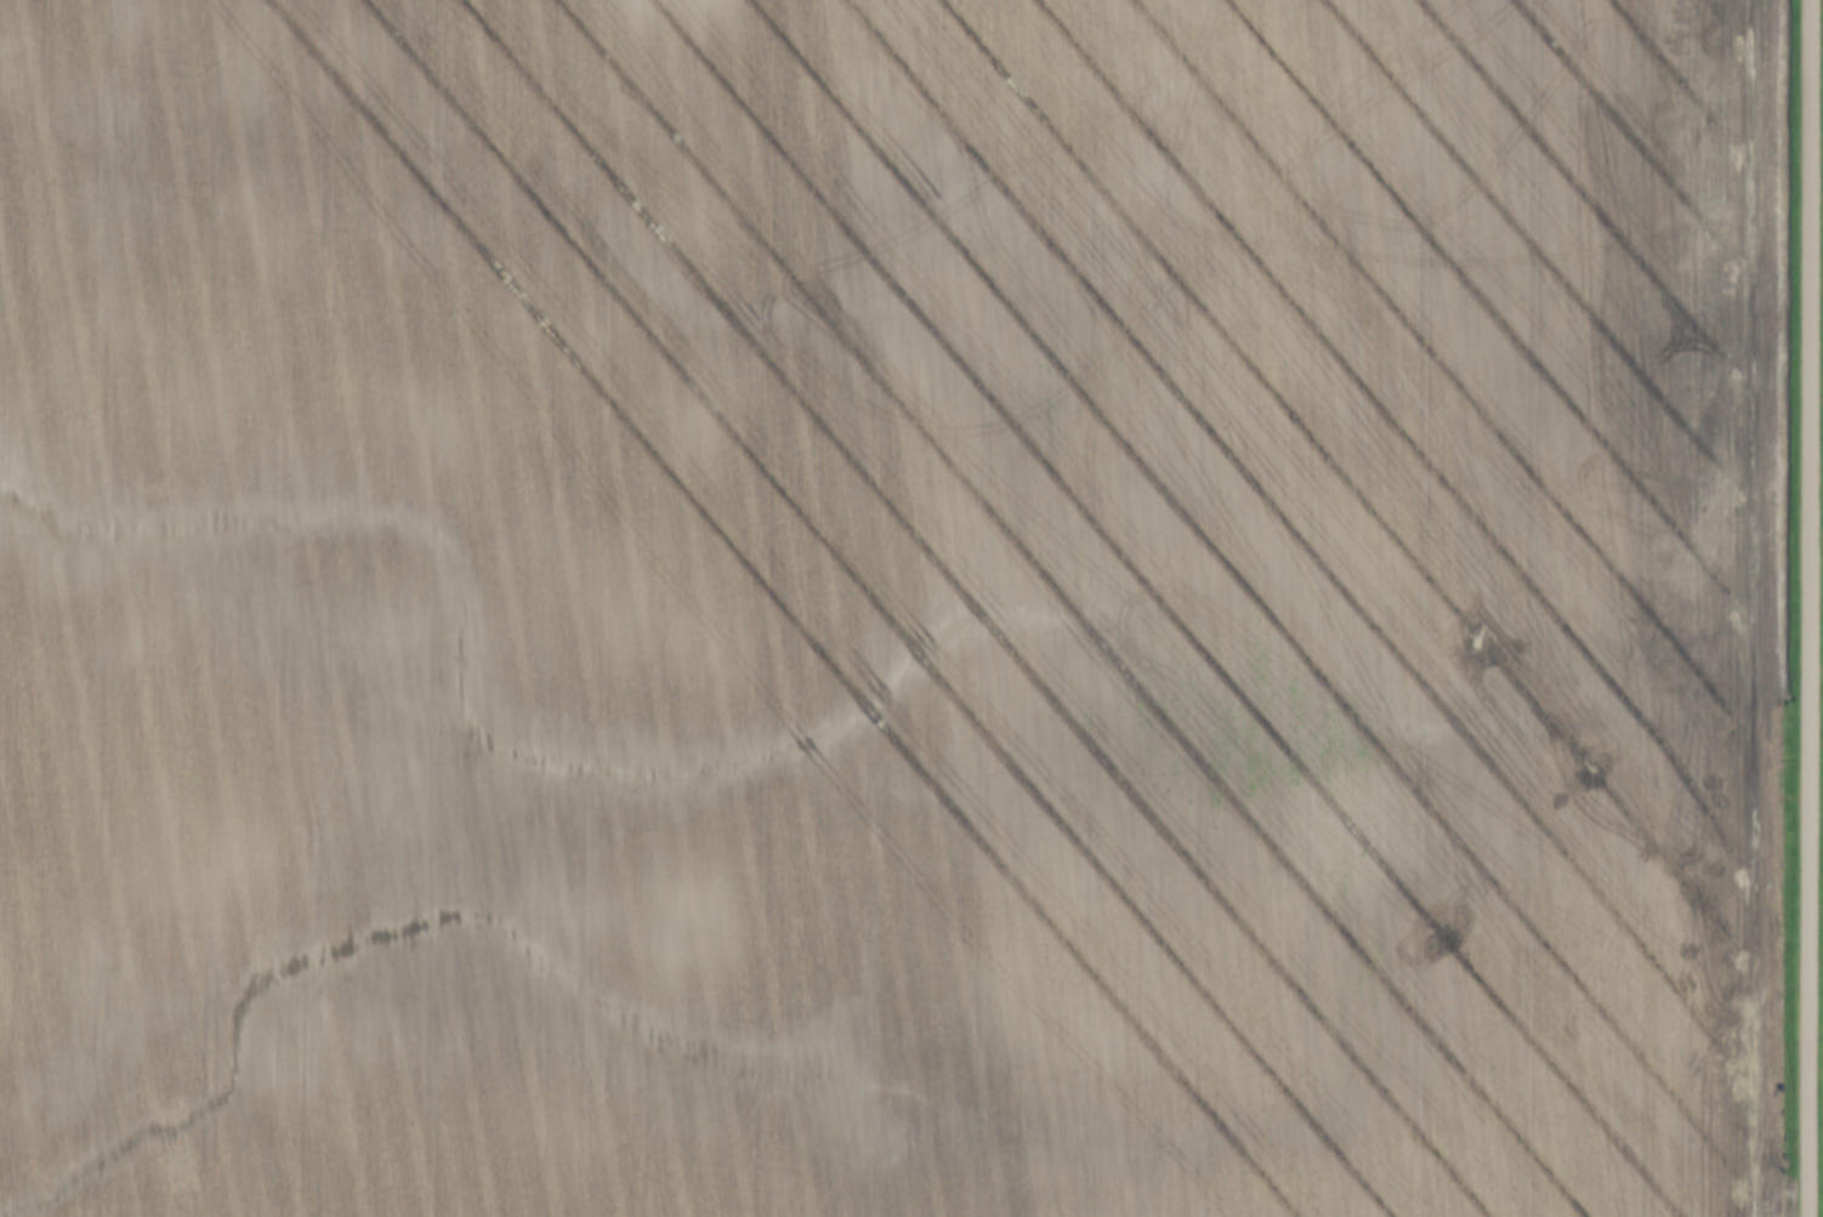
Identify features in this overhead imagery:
road: (1813, 608)

